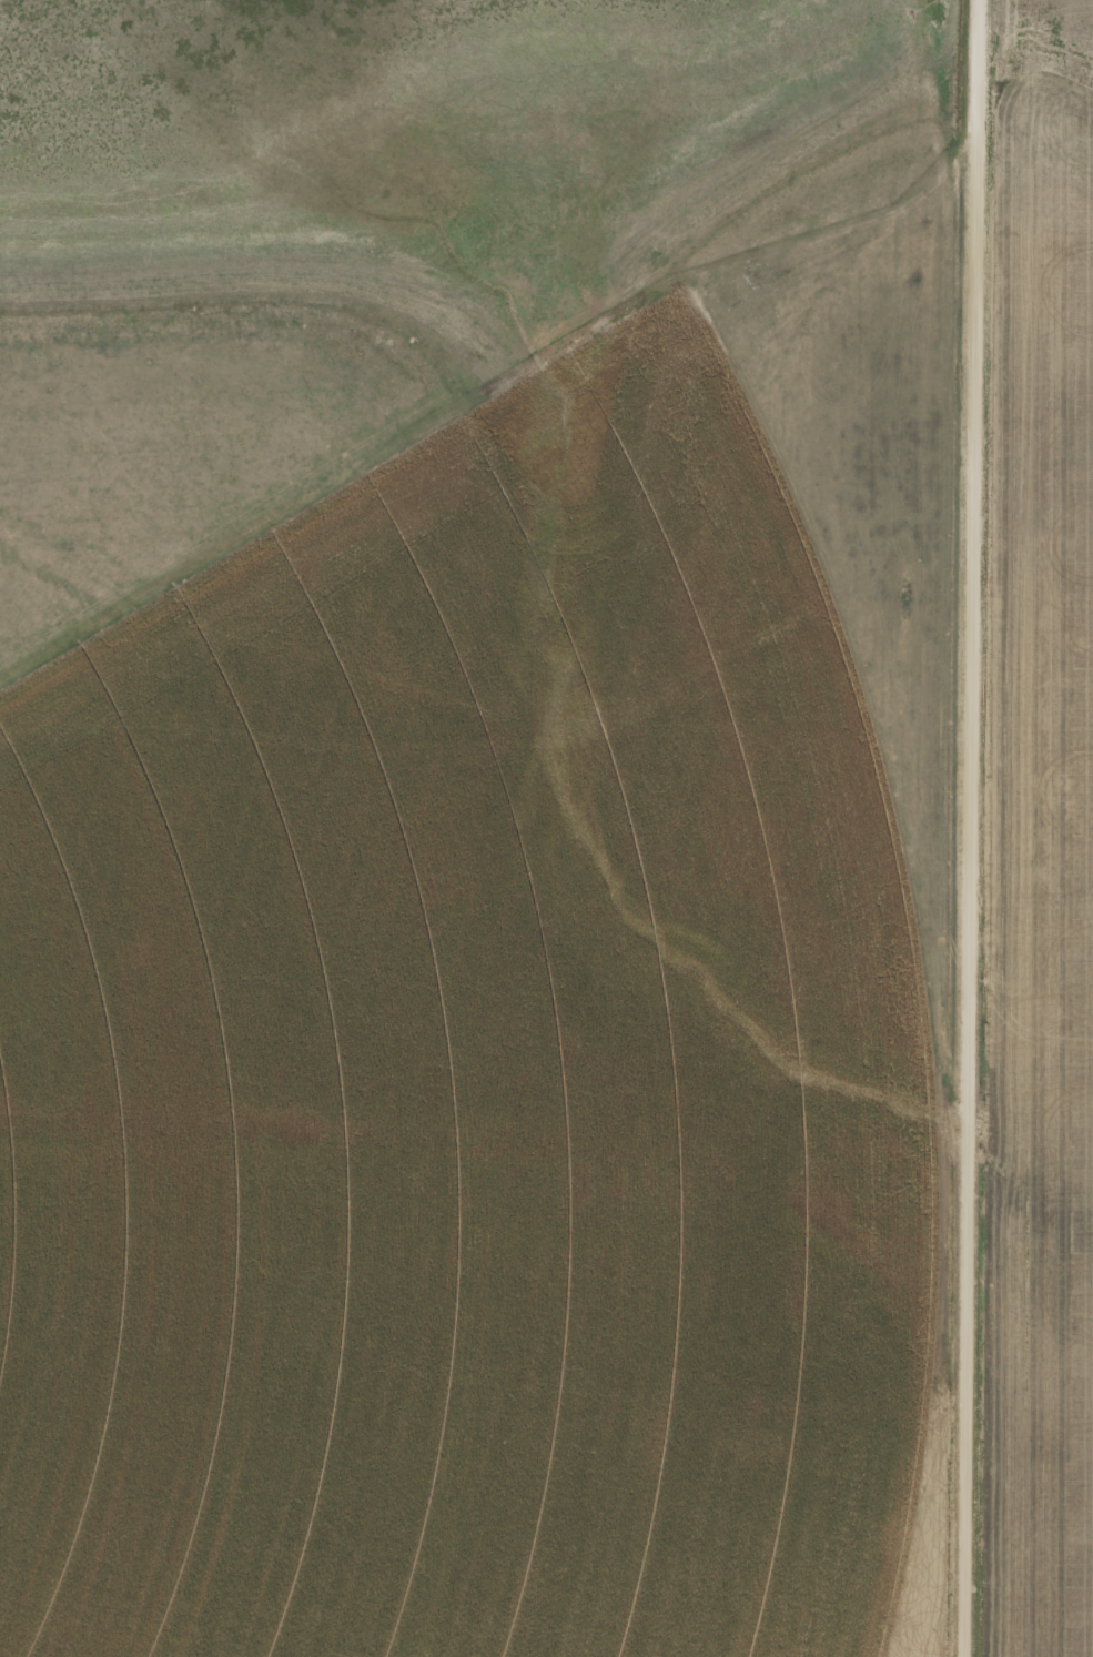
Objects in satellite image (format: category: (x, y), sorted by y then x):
road: (972, 828)

